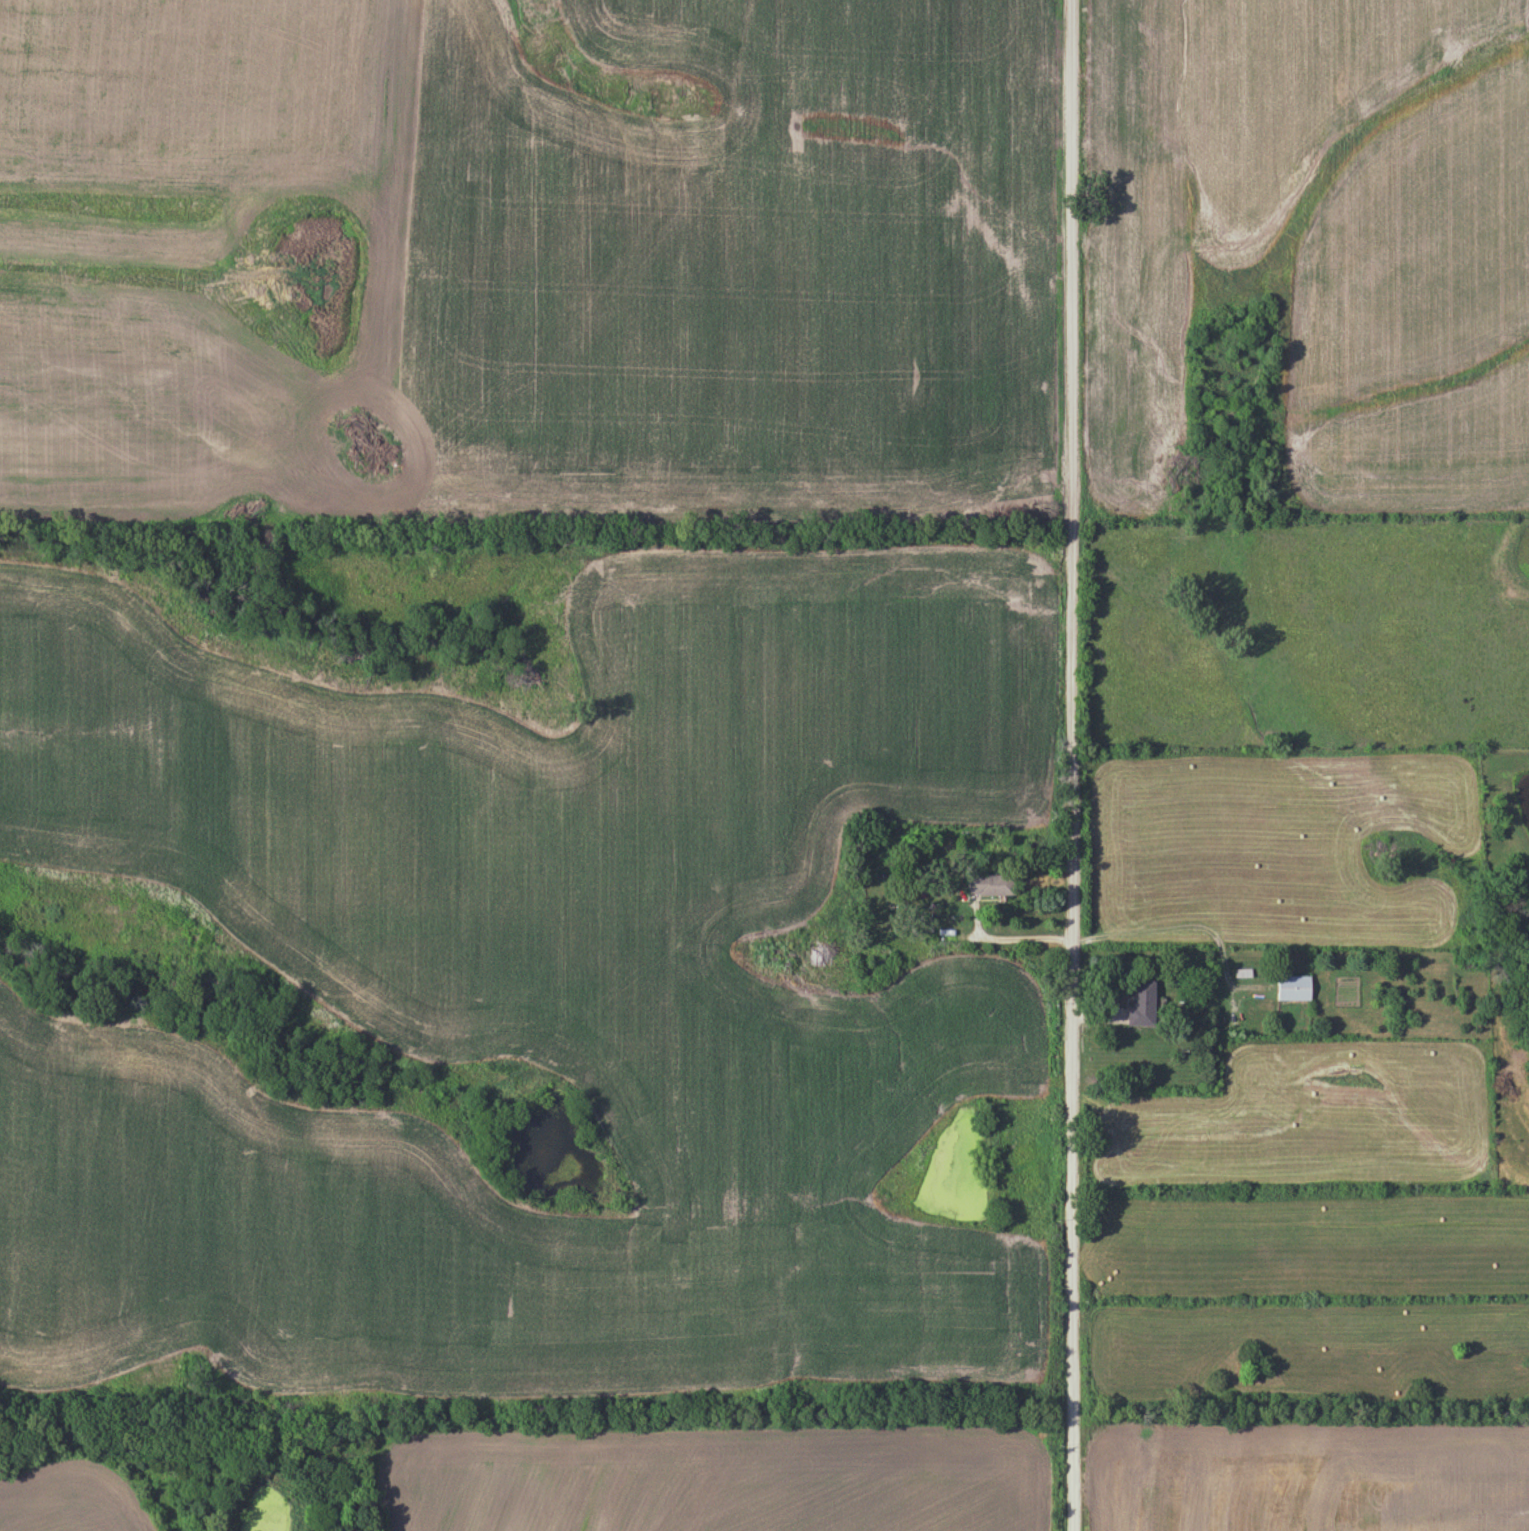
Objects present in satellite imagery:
road: (1070, 765)
building: (990, 886)
road: (1127, 930)
building: (818, 954)
building: (1294, 989)
building: (1142, 1003)

